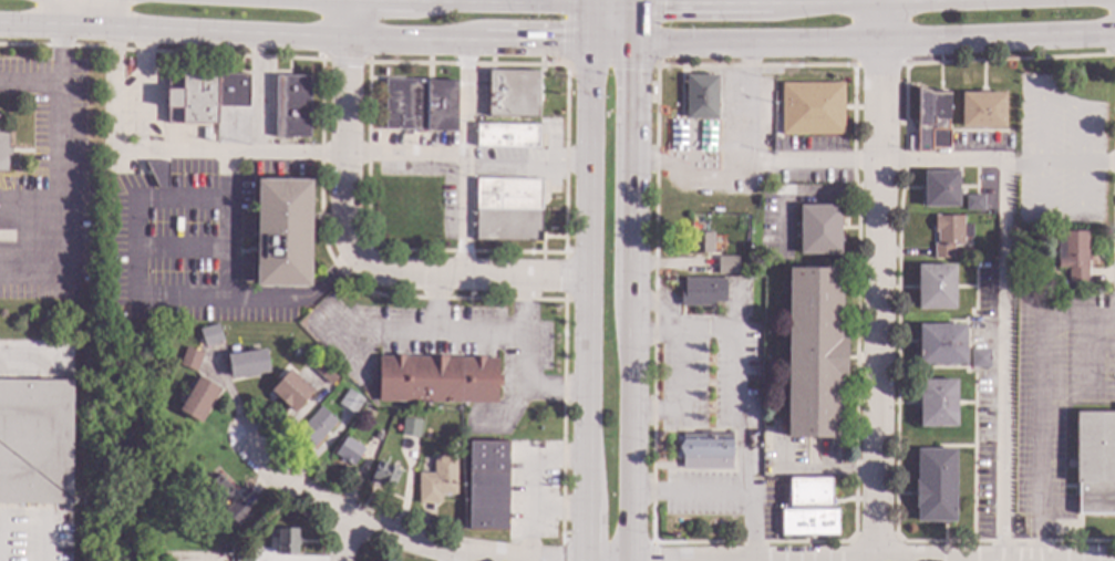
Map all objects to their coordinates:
road: (488, 1)
road: (587, 1)
road: (636, 1)
road: (661, 1)
traffic signals: (663, 1)
road: (611, 2)
road: (434, 3)
road: (588, 22)
road: (636, 23)
road: (293, 37)
traffic signals: (561, 42)
road: (612, 43)
road: (876, 43)
road: (612, 63)
traffic signals: (636, 70)
road: (116, 79)
road: (33, 81)
building: (651, 90)
building: (513, 94)
building: (204, 95)
building: (701, 95)
road: (587, 98)
building: (420, 104)
building: (292, 105)
building: (812, 107)
building: (981, 110)
building: (931, 120)
road: (347, 124)
building: (507, 135)
building: (3, 150)
road: (350, 156)
road: (466, 159)
road: (1060, 164)
road: (632, 169)
building: (158, 173)
road: (1003, 173)
road: (231, 175)
road: (66, 178)
building: (940, 188)
building: (973, 202)
building: (508, 209)
building: (983, 219)
building: (818, 228)
building: (282, 232)
building: (948, 233)
building: (701, 241)
building: (1072, 254)
building: (726, 264)
road: (133, 268)
road: (461, 279)
road: (880, 280)
building: (1062, 284)
building: (935, 287)
building: (702, 290)
building: (970, 311)
road: (630, 315)
road: (478, 330)
road: (657, 330)
road: (412, 333)
building: (210, 334)
road: (528, 337)
building: (940, 344)
building: (814, 352)
building: (980, 356)
building: (190, 359)
road: (585, 359)
road: (27, 360)
building: (248, 363)
building: (327, 371)
building: (437, 378)
road: (742, 388)
building: (291, 389)
road: (684, 395)
road: (530, 396)
building: (198, 398)
building: (350, 401)
building: (936, 402)
road: (1039, 407)
building: (316, 426)
building: (412, 427)
building: (378, 435)
building: (35, 440)
park: (125, 441)
building: (703, 447)
road: (629, 448)
building: (349, 450)
building: (1095, 461)
building: (384, 474)
building: (437, 479)
building: (487, 485)
building: (935, 485)
building: (219, 488)
road: (686, 491)
building: (809, 491)
building: (237, 511)
building: (808, 522)
road: (372, 529)
road: (343, 540)
building: (286, 541)
road: (179, 554)
building: (238, 554)
road: (460, 559)

